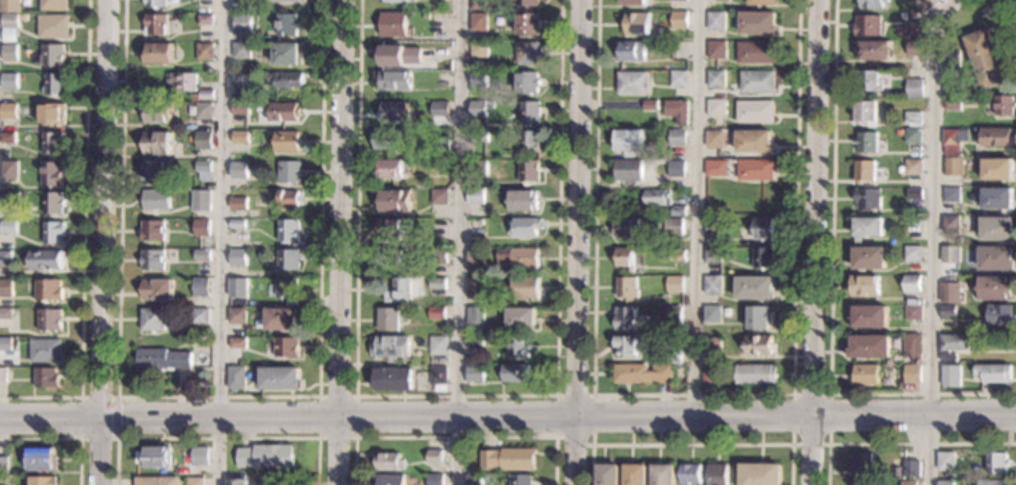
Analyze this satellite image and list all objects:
building: (289, 1)
building: (398, 1)
building: (678, 1)
building: (634, 2)
building: (25, 3)
building: (153, 3)
building: (525, 3)
building: (759, 3)
building: (478, 4)
building: (873, 4)
building: (51, 5)
building: (925, 5)
building: (9, 6)
building: (240, 6)
road: (1005, 11)
building: (425, 16)
building: (20, 18)
building: (204, 20)
building: (677, 20)
building: (8, 22)
building: (477, 22)
building: (716, 22)
building: (438, 23)
building: (756, 23)
building: (241, 24)
building: (526, 24)
building: (636, 24)
building: (154, 25)
building: (286, 25)
building: (393, 25)
building: (867, 26)
building: (51, 27)
road: (597, 28)
building: (914, 31)
building: (477, 49)
building: (915, 49)
building: (240, 50)
building: (715, 51)
building: (875, 51)
building: (203, 52)
building: (631, 52)
building: (7, 53)
building: (754, 53)
building: (157, 54)
building: (401, 54)
building: (527, 54)
building: (288, 55)
building: (50, 56)
building: (950, 59)
building: (985, 61)
building: (432, 66)
building: (678, 79)
building: (239, 80)
building: (394, 80)
building: (478, 80)
building: (714, 80)
building: (7, 81)
building: (285, 81)
building: (869, 81)
building: (180, 82)
building: (755, 82)
building: (526, 83)
building: (631, 84)
building: (53, 85)
building: (914, 88)
building: (950, 88)
building: (206, 95)
building: (6, 96)
building: (194, 98)
building: (951, 105)
building: (649, 106)
building: (1003, 107)
building: (239, 109)
building: (439, 109)
building: (488, 109)
building: (713, 109)
building: (476, 110)
building: (188, 111)
building: (201, 111)
building: (7, 112)
building: (394, 112)
building: (676, 112)
building: (753, 112)
building: (283, 113)
building: (529, 113)
building: (156, 114)
building: (50, 115)
building: (865, 115)
building: (912, 119)
building: (898, 132)
building: (912, 136)
building: (479, 137)
building: (950, 137)
building: (6, 138)
building: (675, 138)
building: (997, 138)
building: (713, 140)
building: (202, 141)
building: (388, 141)
building: (239, 142)
building: (286, 142)
building: (528, 142)
building: (627, 142)
building: (752, 142)
building: (865, 142)
building: (51, 144)
building: (155, 144)
building: (443, 152)
building: (662, 162)
building: (439, 166)
building: (912, 167)
building: (952, 167)
building: (477, 169)
building: (675, 169)
building: (714, 169)
building: (8, 170)
building: (238, 170)
building: (390, 170)
building: (900, 170)
building: (997, 170)
building: (202, 171)
building: (627, 171)
building: (754, 171)
building: (863, 172)
building: (152, 173)
building: (289, 173)
building: (528, 173)
building: (50, 175)
building: (675, 191)
building: (913, 194)
building: (950, 195)
building: (474, 196)
building: (5, 197)
building: (439, 197)
building: (761, 197)
building: (656, 198)
building: (997, 198)
building: (867, 199)
building: (154, 200)
building: (288, 200)
building: (200, 201)
building: (394, 201)
building: (522, 202)
building: (236, 203)
building: (51, 204)
road: (695, 207)
building: (712, 208)
building: (677, 211)
building: (949, 224)
building: (237, 225)
building: (910, 225)
building: (711, 226)
building: (526, 227)
building: (673, 227)
building: (7, 228)
building: (201, 228)
building: (473, 228)
building: (624, 228)
building: (866, 228)
building: (762, 229)
building: (996, 229)
building: (389, 230)
building: (150, 231)
building: (287, 231)
building: (52, 234)
road: (928, 237)
road: (83, 238)
road: (103, 242)
road: (220, 242)
road: (342, 242)
road: (457, 242)
road: (576, 242)
road: (818, 242)
building: (711, 255)
building: (912, 255)
building: (201, 256)
building: (437, 256)
building: (674, 256)
building: (949, 256)
building: (389, 257)
building: (474, 257)
building: (236, 258)
building: (624, 258)
building: (762, 258)
building: (869, 258)
building: (5, 259)
building: (515, 259)
building: (995, 259)
building: (45, 260)
building: (151, 260)
building: (288, 260)
building: (436, 284)
building: (673, 285)
building: (713, 285)
building: (911, 285)
building: (863, 286)
building: (199, 287)
building: (5, 288)
building: (286, 288)
building: (474, 288)
building: (522, 288)
building: (625, 288)
building: (754, 288)
building: (237, 289)
road: (831, 289)
building: (993, 289)
building: (155, 290)
building: (48, 291)
building: (399, 291)
building: (949, 293)
road: (795, 298)
building: (947, 312)
building: (435, 313)
building: (912, 313)
building: (5, 314)
building: (711, 315)
building: (199, 316)
building: (236, 316)
building: (473, 316)
building: (672, 316)
building: (998, 316)
building: (868, 317)
building: (896, 317)
building: (757, 318)
building: (280, 319)
building: (520, 319)
building: (624, 319)
building: (49, 320)
building: (387, 320)
building: (151, 321)
building: (473, 340)
building: (5, 344)
building: (237, 344)
building: (436, 346)
building: (626, 346)
building: (757, 346)
building: (911, 346)
building: (517, 347)
building: (711, 347)
building: (869, 347)
building: (951, 347)
building: (285, 348)
building: (390, 348)
building: (44, 350)
building: (671, 355)
building: (162, 360)
building: (679, 372)
building: (515, 373)
building: (473, 374)
building: (754, 374)
building: (912, 374)
building: (993, 374)
building: (2, 375)
building: (643, 375)
building: (706, 376)
building: (864, 376)
building: (950, 377)
building: (235, 378)
building: (45, 379)
building: (279, 379)
building: (437, 379)
building: (391, 380)
road: (454, 395)
road: (217, 397)
road: (318, 397)
road: (592, 401)
road: (507, 416)
road: (81, 417)
road: (117, 417)
road: (455, 436)
road: (217, 438)
road: (63, 439)
road: (829, 443)
road: (692, 444)
road: (901, 444)
building: (267, 455)
building: (199, 456)
building: (434, 456)
building: (155, 457)
building: (509, 459)
building: (42, 460)
building: (388, 461)
building: (946, 461)
building: (997, 463)
building: (861, 464)
building: (4, 465)
building: (911, 469)
building: (690, 473)
building: (607, 474)
building: (635, 474)
building: (663, 474)
building: (761, 474)
building: (717, 475)
building: (388, 479)
building: (434, 479)
building: (473, 479)
building: (521, 480)
building: (43, 481)
building: (157, 481)
building: (194, 481)
building: (237, 482)
building: (863, 483)
building: (909, 483)
building: (946, 483)
building: (993, 483)

